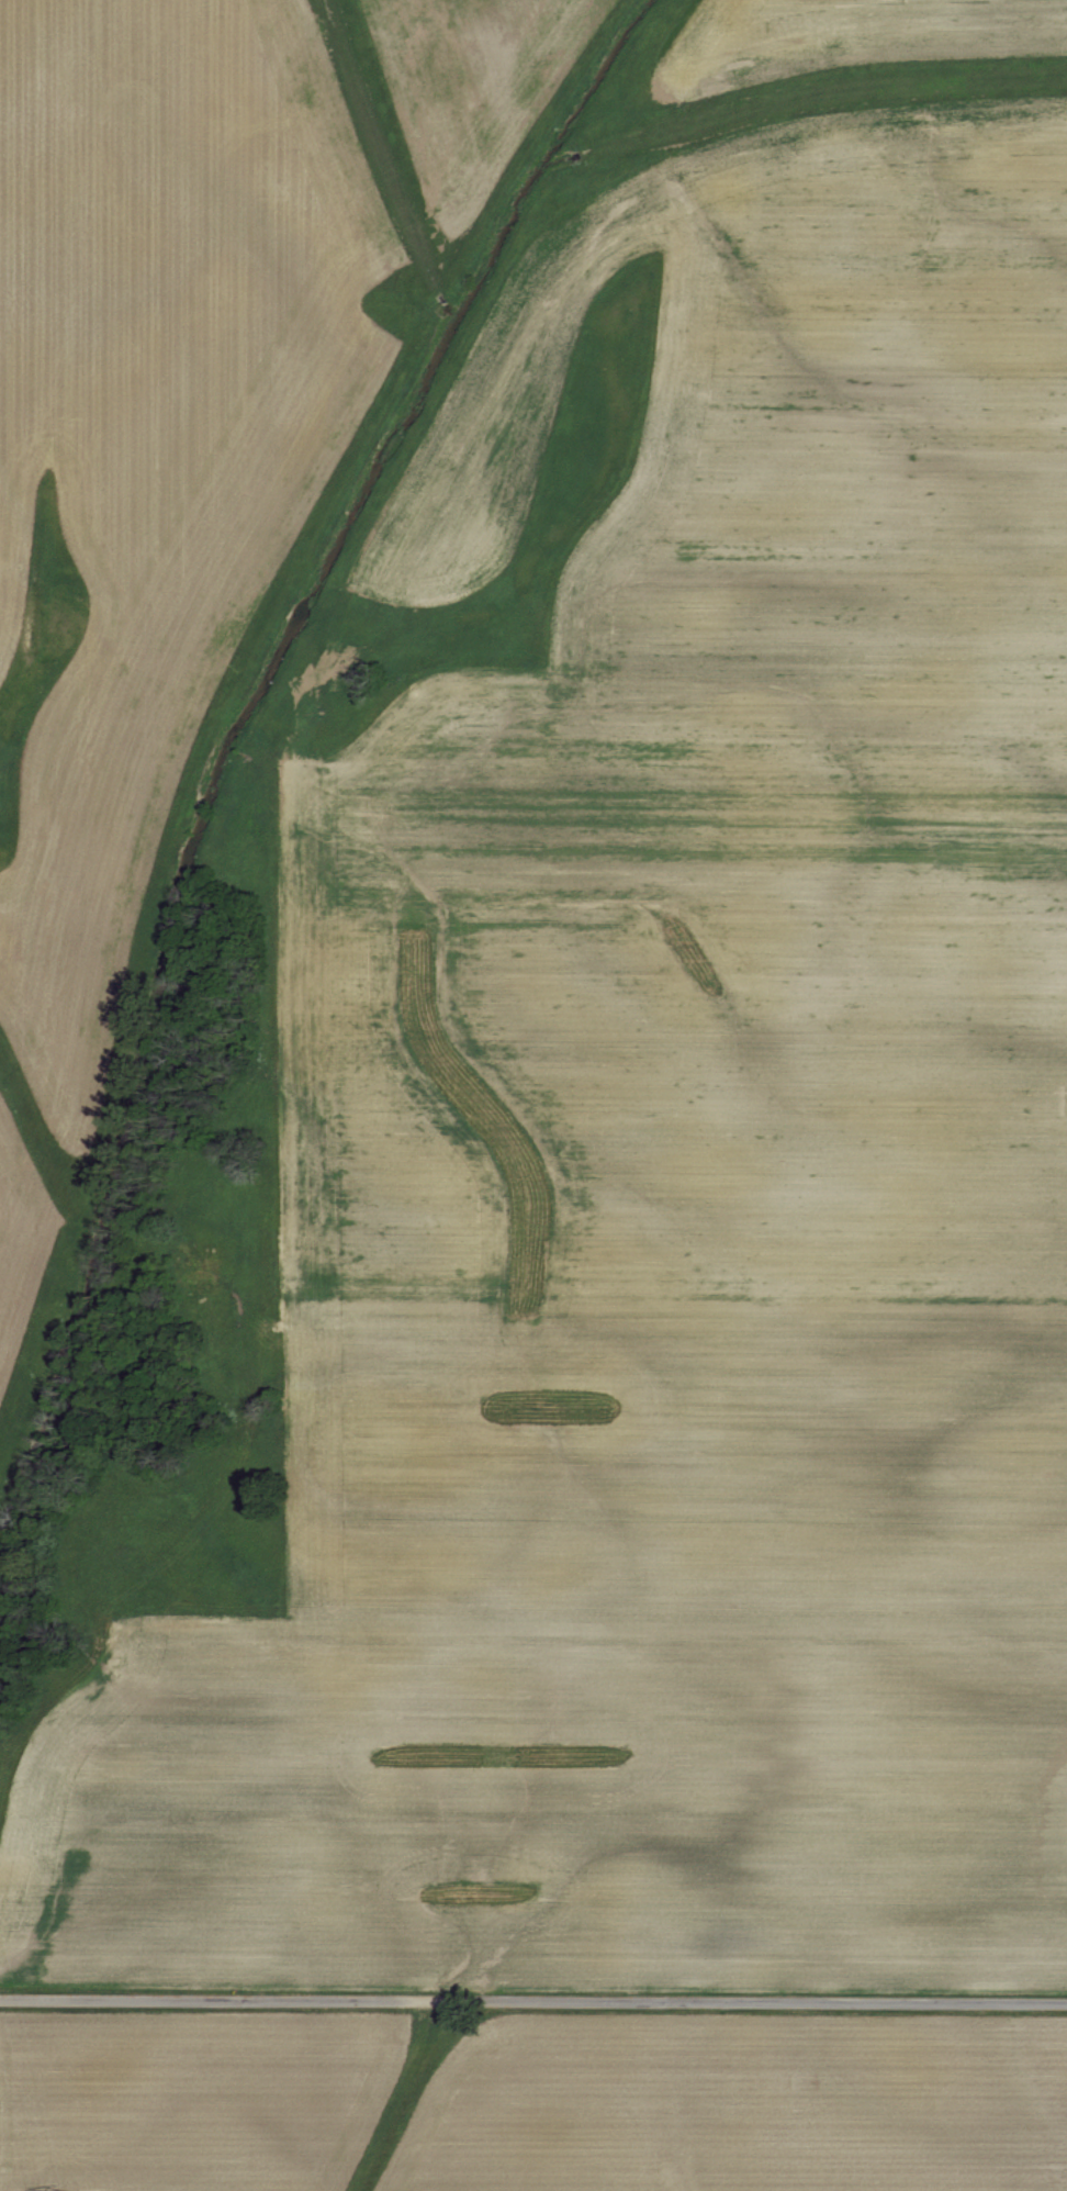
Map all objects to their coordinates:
road: (533, 1999)
power tower: (61, 2190)

